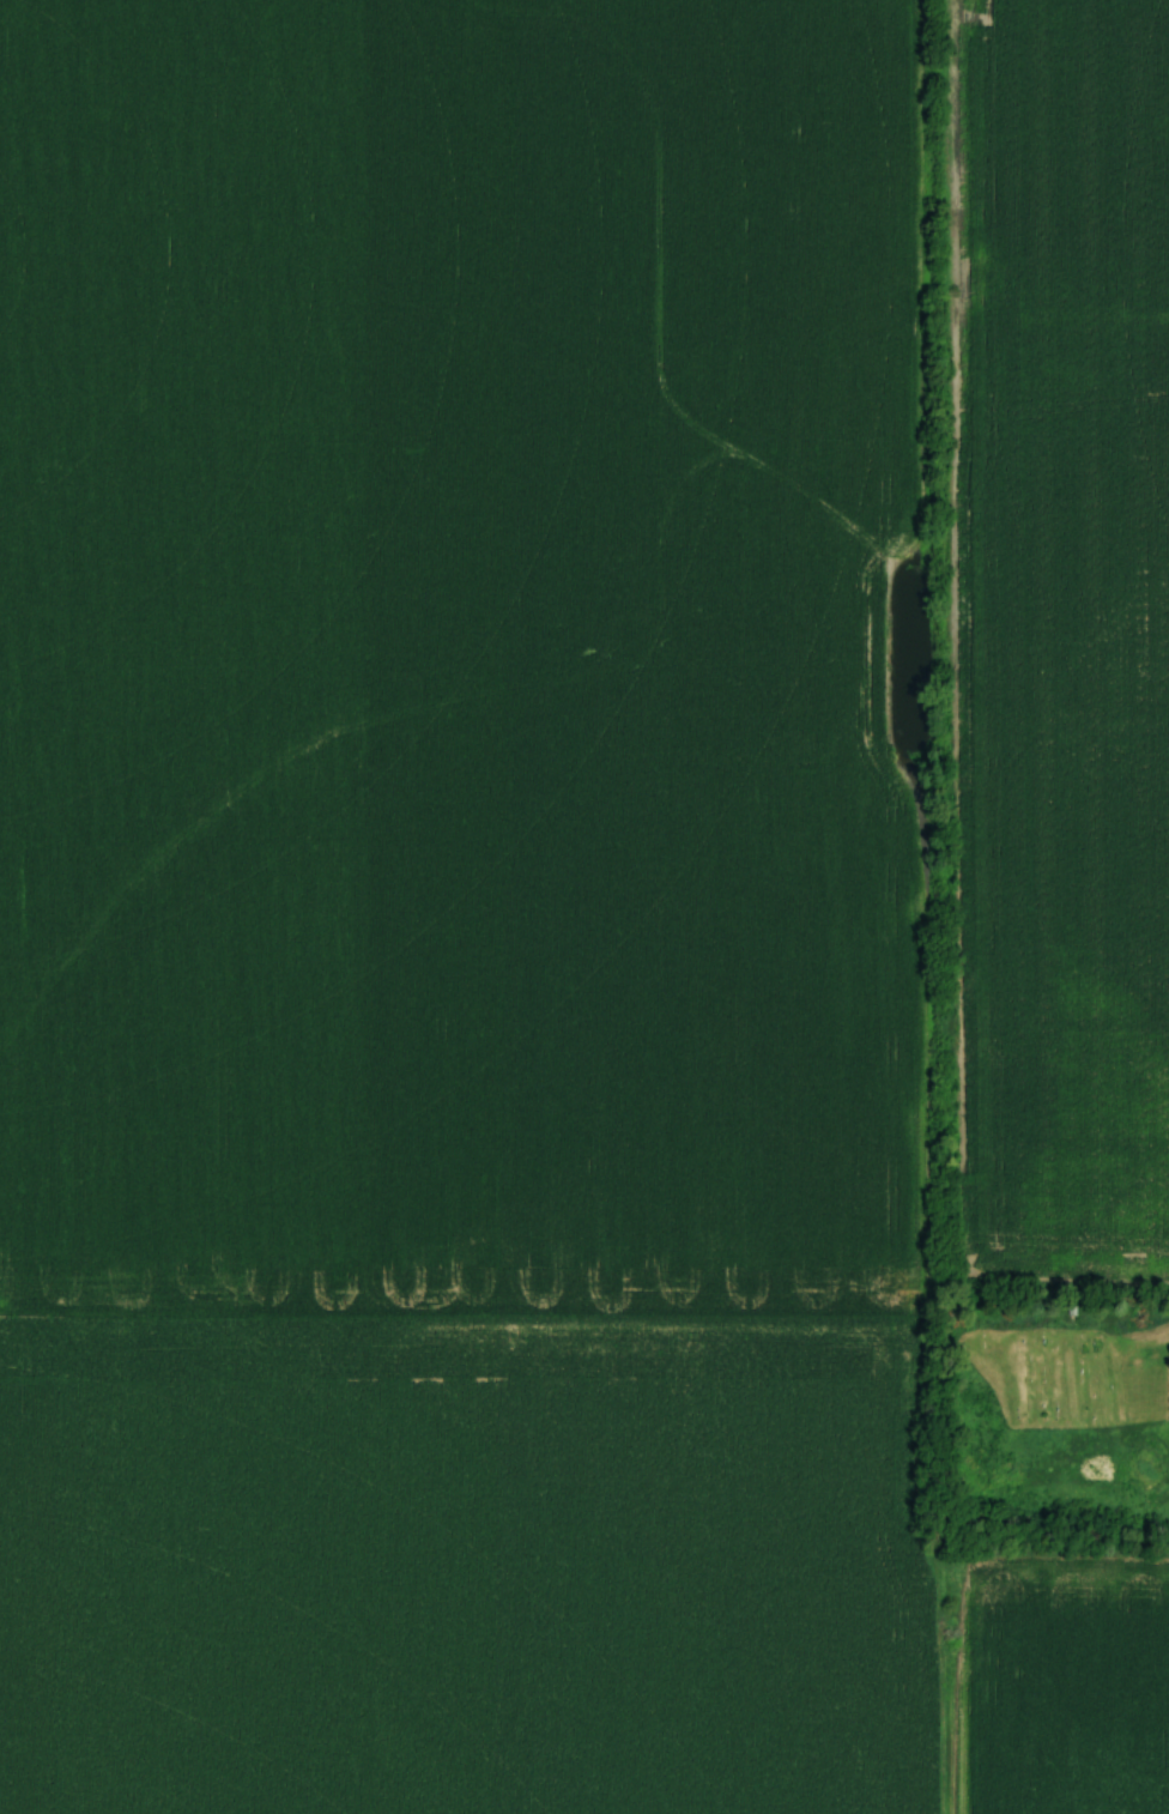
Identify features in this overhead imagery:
road: (1168, 1307)
park: (1052, 1408)

